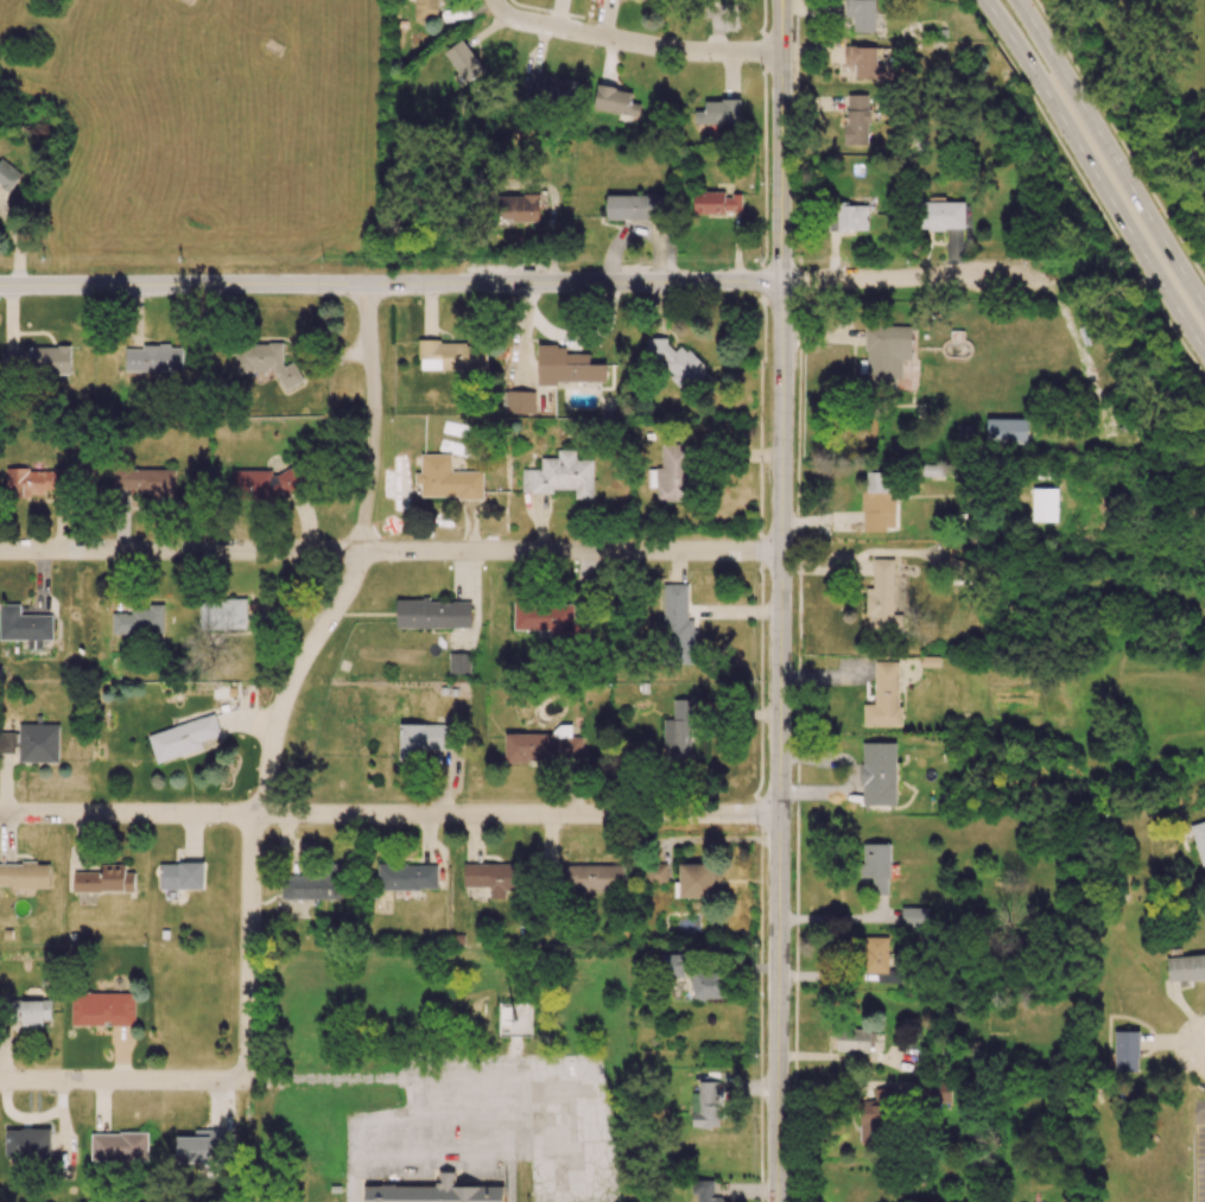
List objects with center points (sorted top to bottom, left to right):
building: (425, 9)
building: (861, 14)
road: (632, 42)
building: (463, 61)
building: (867, 63)
park: (1163, 84)
building: (551, 90)
building: (615, 101)
building: (718, 112)
building: (856, 120)
road: (1120, 140)
road: (781, 141)
road: (1110, 153)
building: (8, 174)
road: (1096, 176)
road: (1087, 186)
building: (716, 202)
building: (635, 206)
building: (518, 208)
building: (943, 216)
building: (851, 217)
road: (17, 243)
road: (391, 281)
road: (892, 281)
building: (886, 354)
building: (452, 356)
building: (40, 358)
building: (152, 358)
building: (265, 361)
building: (678, 363)
building: (566, 365)
building: (519, 402)
building: (1006, 431)
building: (964, 432)
building: (933, 470)
building: (674, 471)
building: (560, 475)
building: (446, 478)
building: (33, 481)
building: (145, 481)
building: (273, 483)
building: (877, 503)
building: (1044, 504)
road: (389, 549)
road: (855, 559)
building: (881, 596)
building: (222, 613)
building: (433, 613)
building: (544, 618)
building: (139, 621)
building: (678, 622)
building: (24, 625)
building: (459, 662)
road: (294, 674)
building: (884, 695)
building: (679, 731)
building: (182, 738)
building: (423, 739)
building: (7, 743)
building: (38, 743)
road: (779, 743)
building: (544, 745)
road: (851, 774)
building: (879, 774)
road: (388, 813)
building: (1199, 840)
building: (876, 866)
building: (654, 873)
building: (24, 875)
building: (182, 875)
building: (407, 877)
building: (493, 877)
building: (592, 878)
building: (104, 879)
building: (700, 880)
building: (315, 884)
building: (914, 916)
building: (876, 954)
building: (671, 965)
building: (1186, 968)
building: (886, 977)
building: (706, 985)
building: (102, 1009)
building: (30, 1012)
building: (514, 1022)
building: (850, 1039)
building: (1125, 1051)
road: (1204, 1066)
road: (123, 1080)
building: (938, 1092)
building: (708, 1106)
building: (875, 1117)
building: (27, 1143)
road: (436, 1144)
building: (119, 1146)
building: (201, 1146)
building: (705, 1191)
building: (433, 1193)

